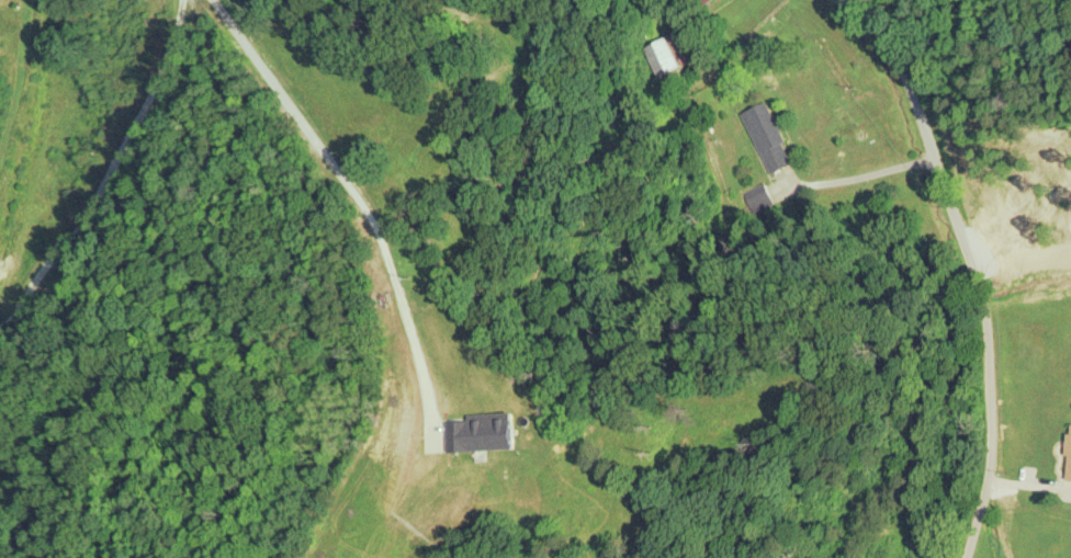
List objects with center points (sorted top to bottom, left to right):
building: (709, 1)
building: (669, 54)
building: (770, 137)
road: (111, 178)
road: (364, 203)
road: (982, 271)
building: (1068, 455)

